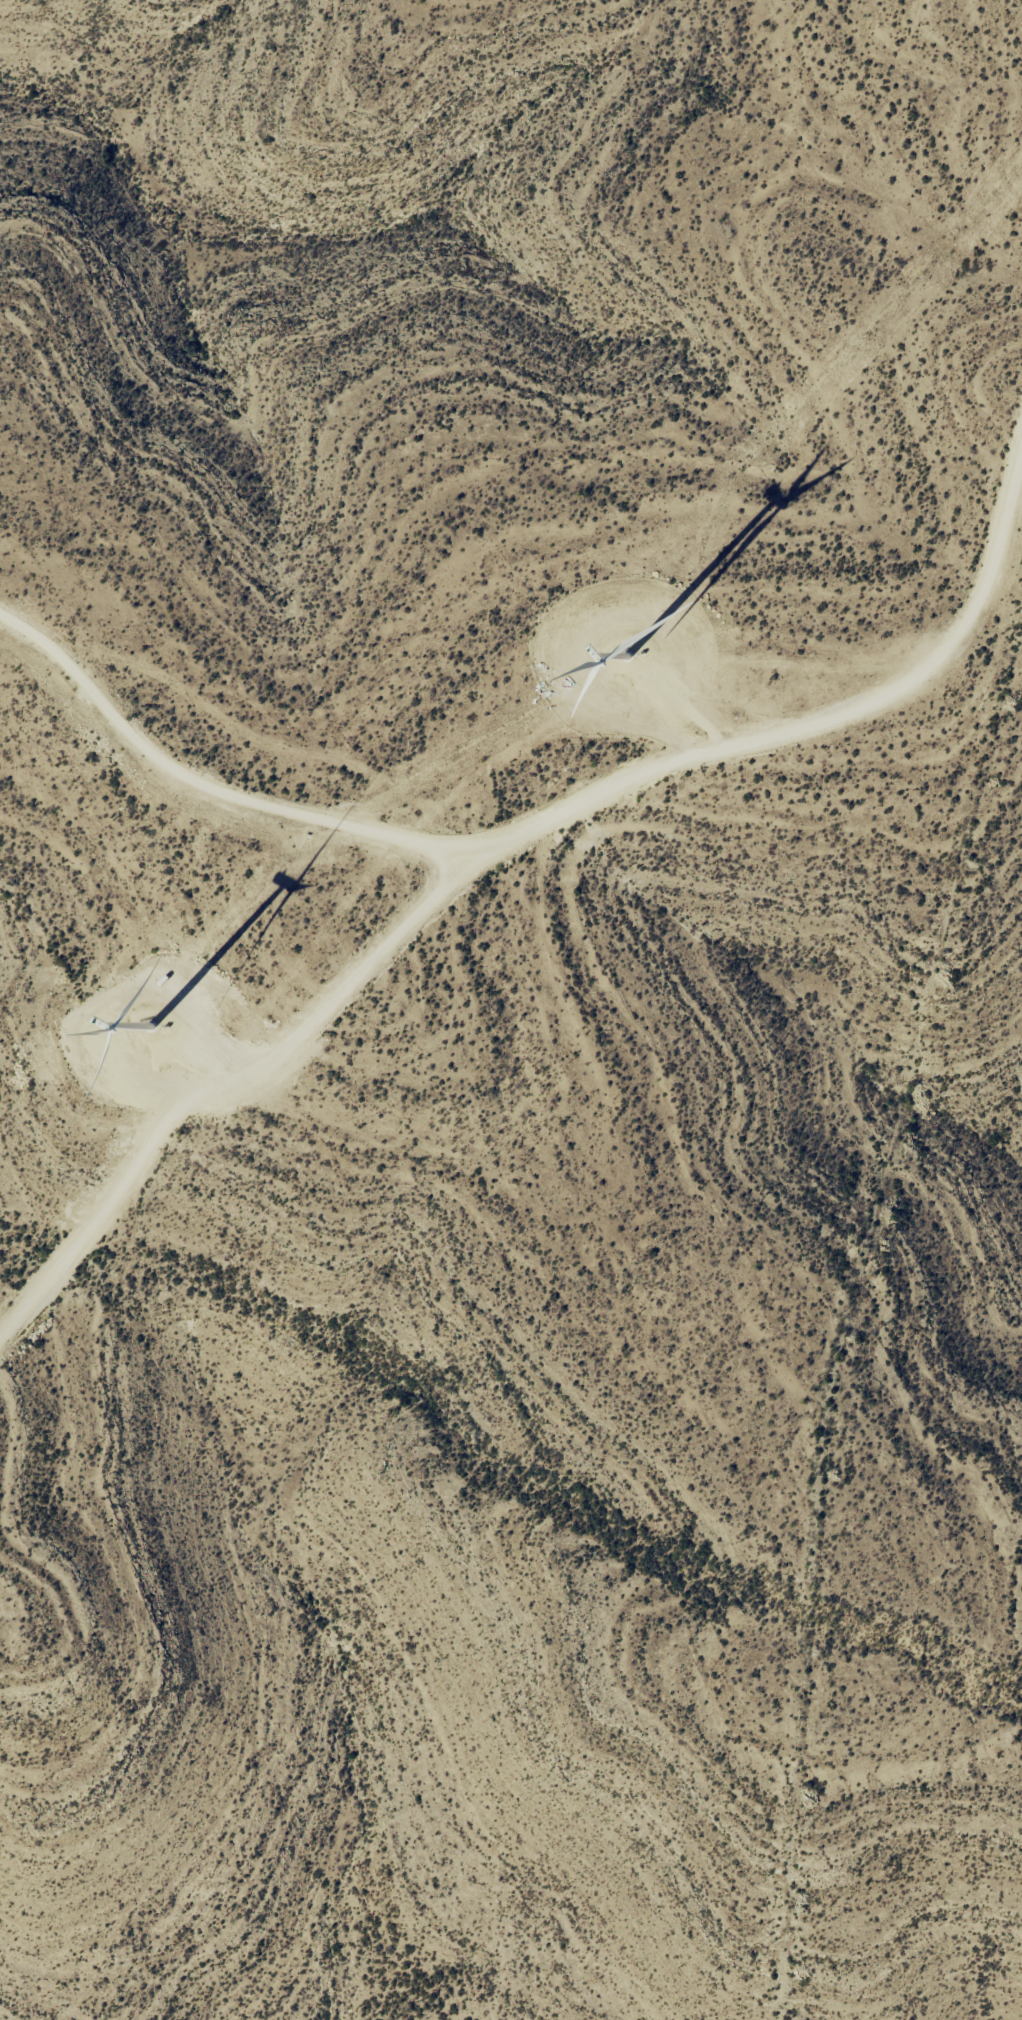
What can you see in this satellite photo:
wind turbine: (625, 656)
wind turbine: (149, 1028)

